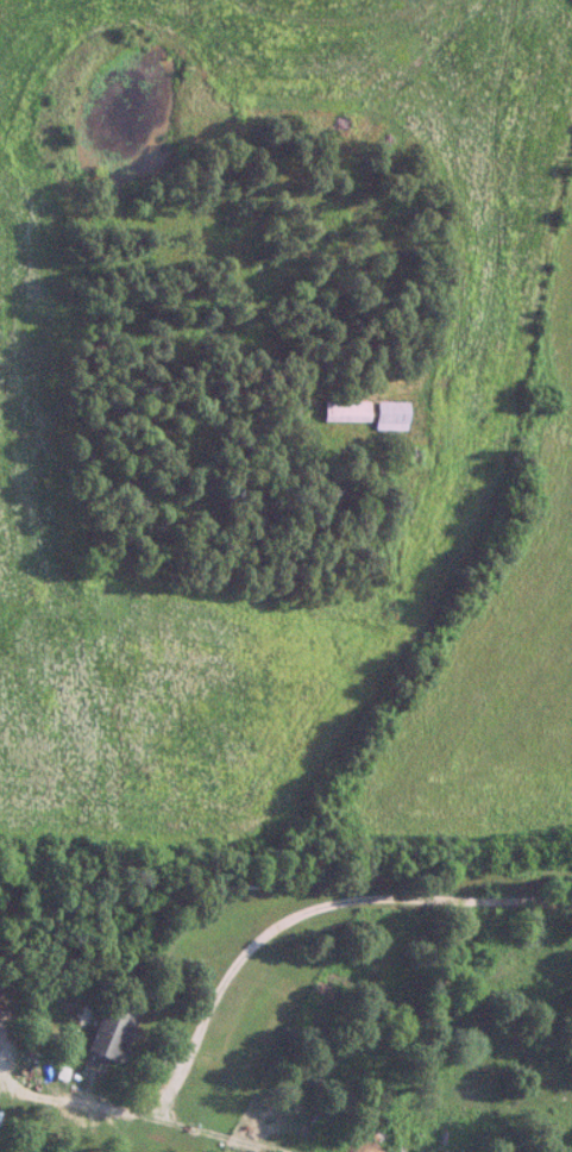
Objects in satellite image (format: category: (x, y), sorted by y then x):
building: (346, 413)
building: (390, 417)
road: (252, 944)
building: (111, 1034)

